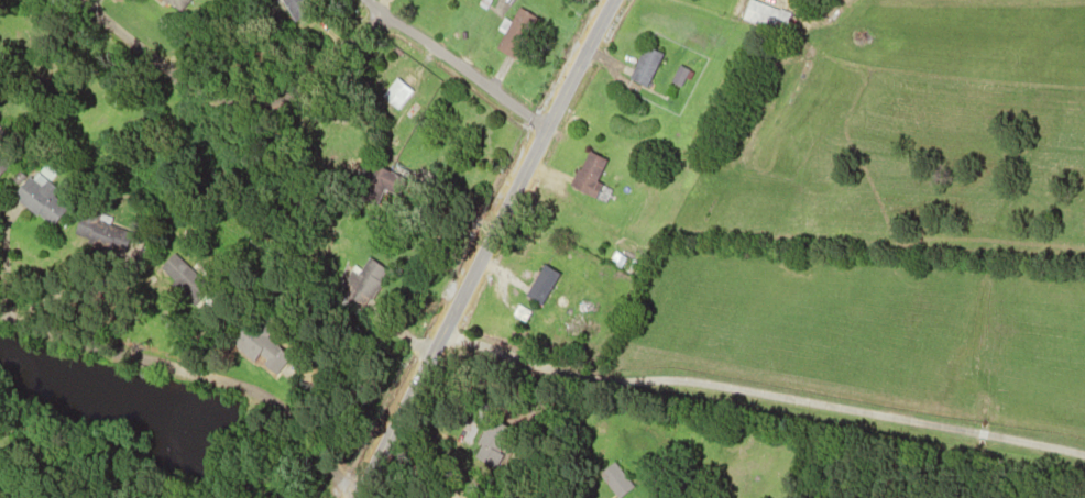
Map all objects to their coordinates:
building: (175, 4)
building: (291, 5)
building: (765, 14)
building: (515, 30)
road: (450, 63)
building: (644, 65)
building: (676, 77)
building: (393, 92)
road: (223, 101)
building: (3, 163)
building: (585, 173)
building: (382, 178)
building: (366, 192)
building: (44, 198)
building: (113, 229)
road: (478, 247)
building: (184, 275)
building: (539, 283)
building: (357, 285)
building: (254, 344)
road: (194, 374)
road: (758, 392)
building: (491, 443)
building: (612, 479)

